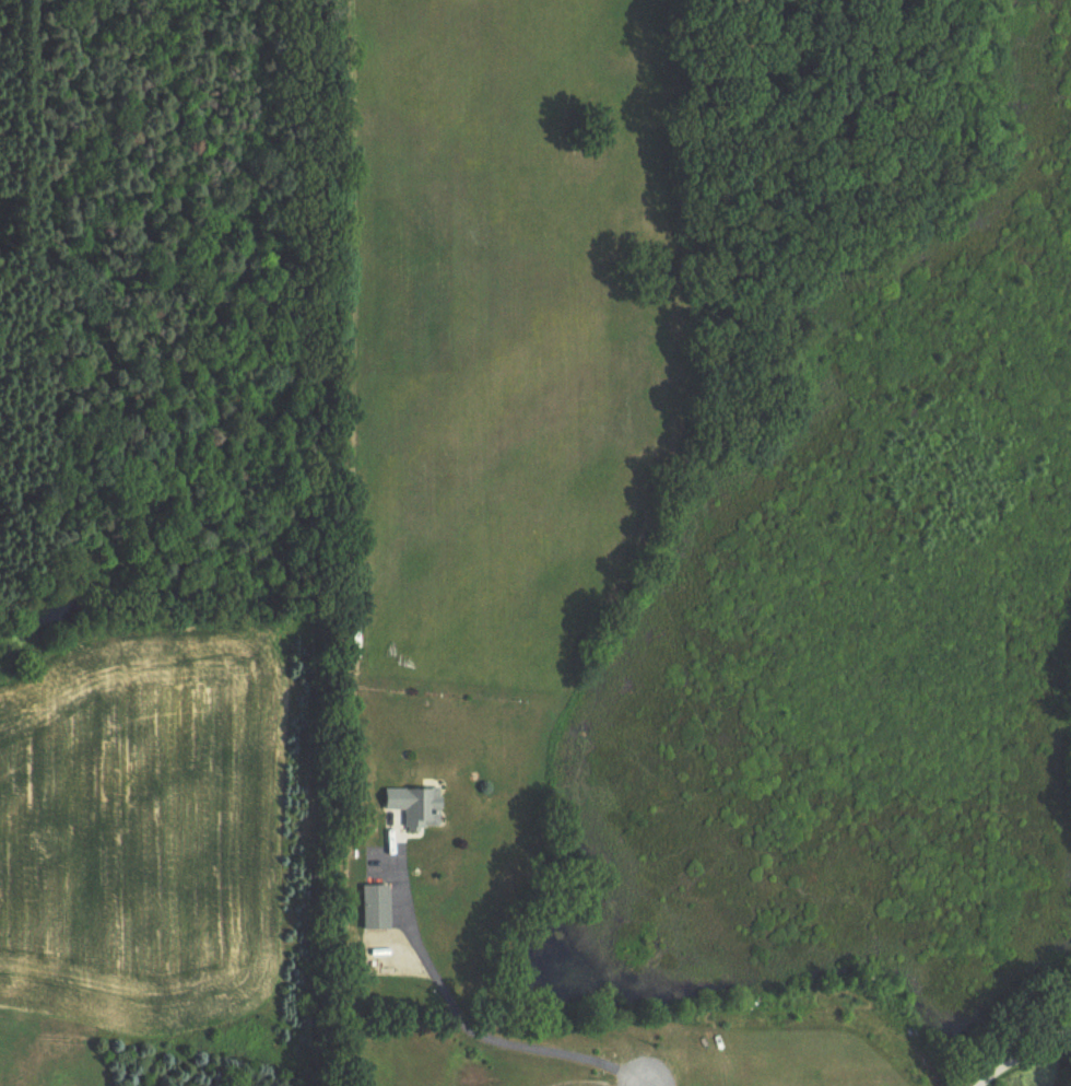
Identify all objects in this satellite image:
building: (417, 808)
building: (378, 909)
road: (467, 1024)
road: (1023, 1053)

